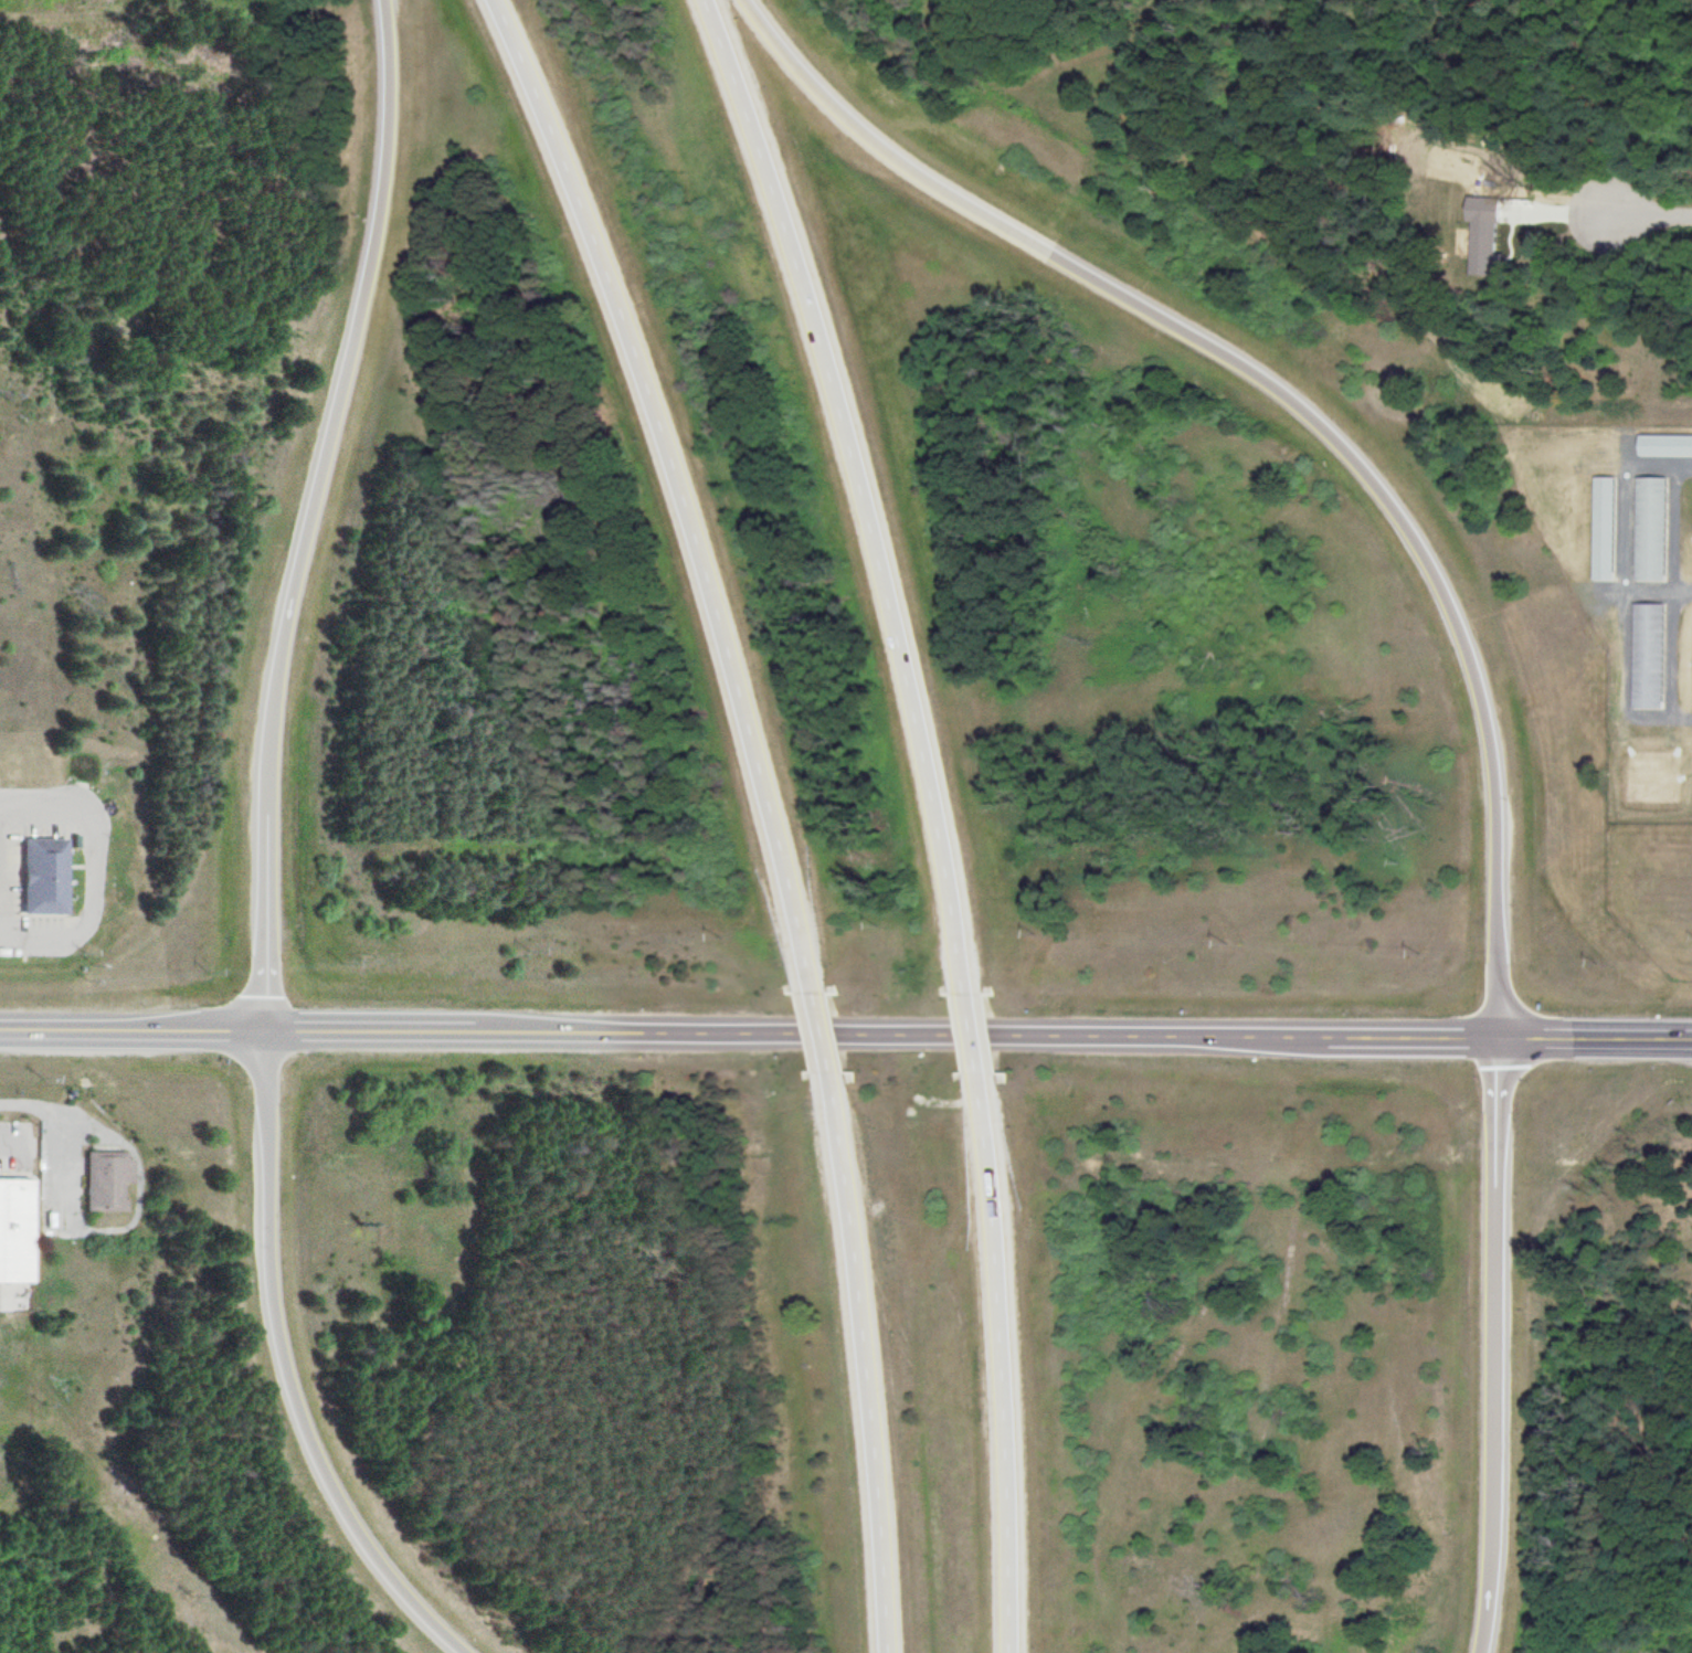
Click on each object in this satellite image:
road: (32, 10)
road: (1301, 401)
road: (854, 480)
road: (675, 484)
road: (294, 515)
building: (1649, 531)
building: (1648, 658)
building: (42, 877)
road: (970, 1030)
road: (128, 1031)
road: (757, 1036)
road: (815, 1038)
road: (1378, 1039)
road: (1595, 1041)
building: (828, 1101)
building: (103, 1180)
building: (846, 1232)
road: (1489, 1346)
road: (1003, 1369)
road: (868, 1370)
road: (275, 1374)

